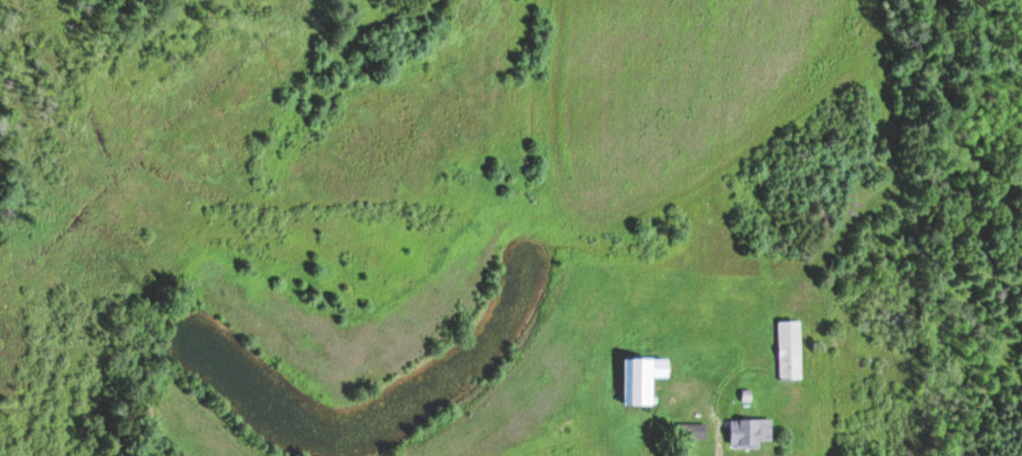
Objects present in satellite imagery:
building: (788, 351)
building: (639, 381)
building: (689, 431)
building: (746, 433)

